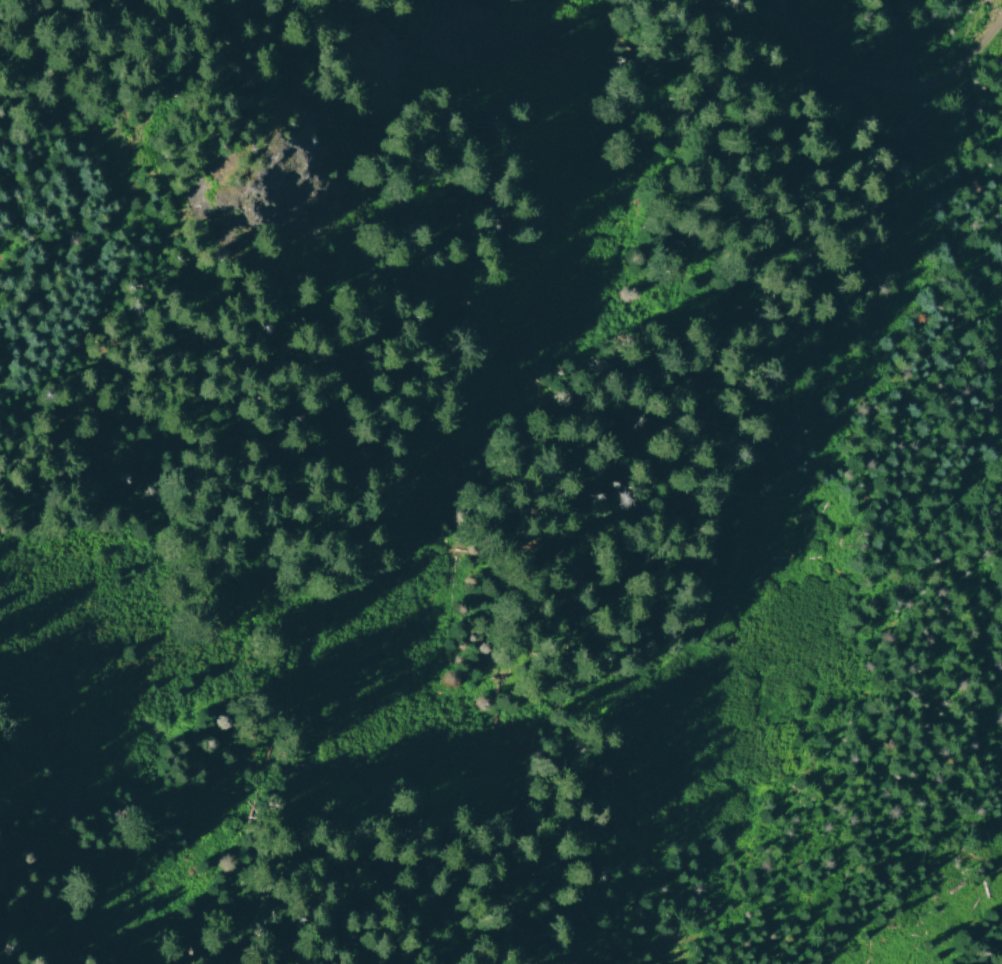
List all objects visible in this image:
road: (880, 81)

